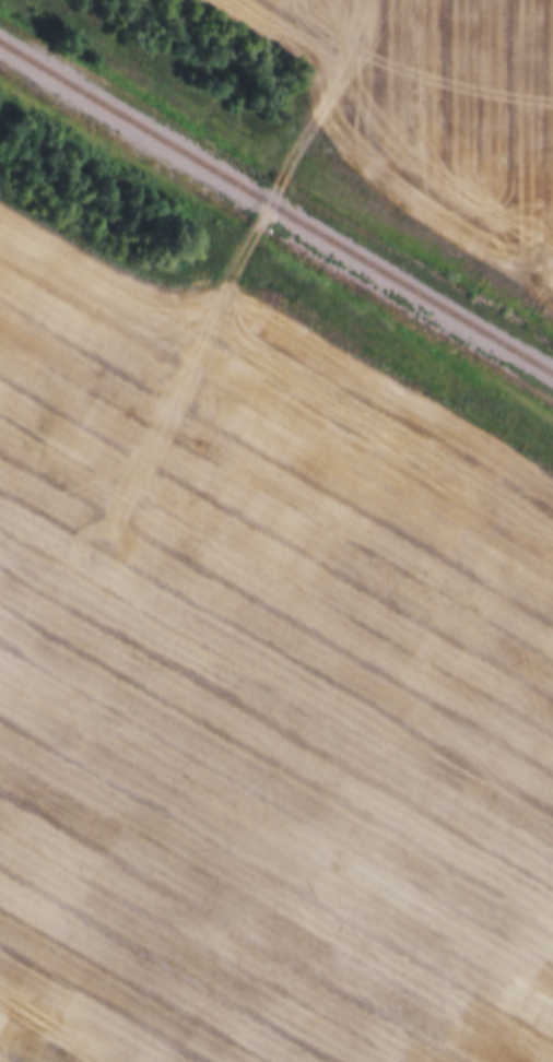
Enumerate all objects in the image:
railway: (276, 209)
road: (263, 212)

